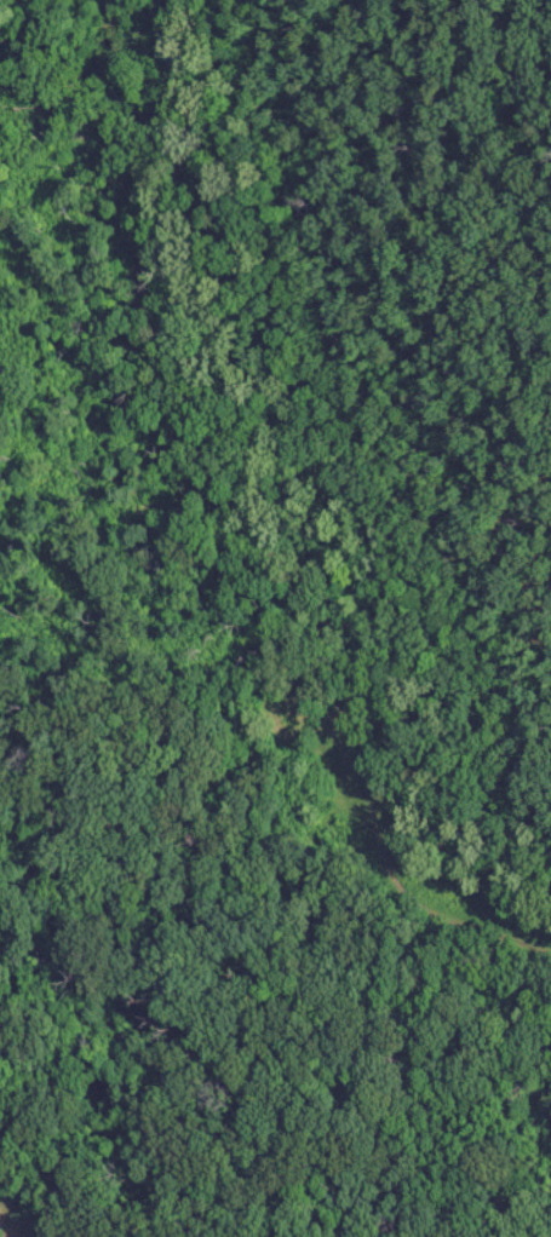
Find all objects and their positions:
building: (293, 718)
road: (538, 718)
road: (30, 1198)

